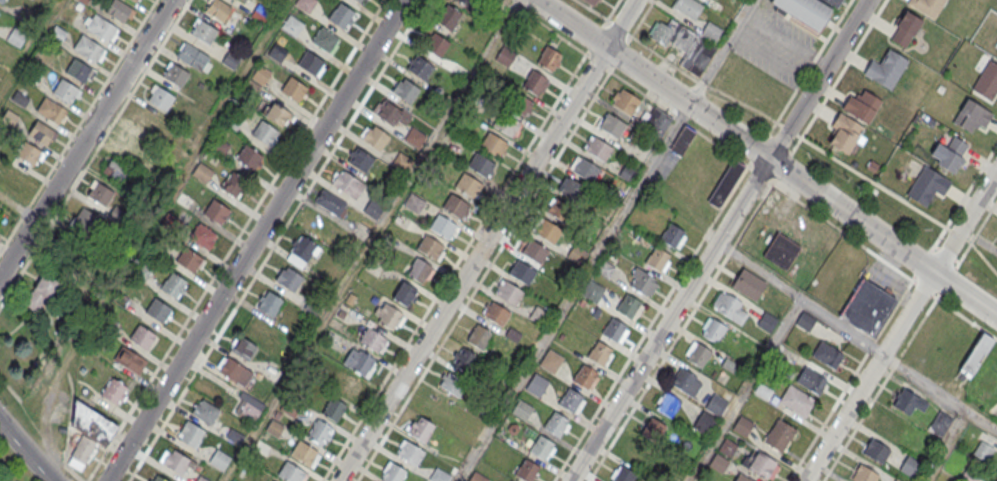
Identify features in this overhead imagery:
building: (135, 0)
building: (1, 1)
building: (84, 1)
building: (358, 1)
building: (361, 1)
building: (589, 2)
building: (833, 2)
building: (469, 3)
building: (305, 4)
building: (926, 6)
building: (218, 8)
building: (688, 8)
road: (751, 8)
building: (119, 10)
building: (804, 12)
building: (340, 17)
building: (448, 17)
building: (292, 25)
building: (100, 27)
building: (905, 30)
building: (204, 31)
building: (661, 33)
building: (710, 33)
building: (57, 34)
road: (631, 36)
road: (781, 37)
road: (595, 38)
building: (324, 41)
building: (436, 45)
parking lot: (775, 45)
building: (88, 47)
building: (277, 52)
building: (192, 56)
building: (698, 56)
building: (505, 57)
building: (549, 58)
road: (718, 61)
road: (813, 61)
road: (822, 61)
building: (309, 65)
building: (419, 67)
building: (885, 68)
road: (843, 69)
building: (78, 70)
building: (175, 74)
building: (261, 75)
building: (986, 76)
road: (690, 77)
road: (819, 80)
building: (535, 82)
building: (404, 89)
building: (65, 90)
building: (293, 90)
building: (161, 98)
building: (517, 103)
building: (626, 104)
building: (861, 105)
building: (51, 110)
building: (391, 113)
building: (277, 116)
building: (971, 116)
building: (657, 120)
building: (146, 122)
road: (77, 125)
building: (505, 125)
building: (612, 127)
building: (41, 132)
building: (844, 132)
building: (264, 134)
road: (85, 138)
building: (374, 138)
building: (414, 138)
building: (681, 142)
building: (130, 145)
building: (493, 145)
building: (219, 146)
building: (597, 150)
building: (27, 152)
building: (951, 154)
road: (766, 157)
building: (248, 159)
building: (359, 160)
building: (480, 165)
building: (114, 169)
building: (585, 170)
building: (203, 172)
building: (15, 176)
road: (540, 183)
building: (233, 184)
building: (347, 185)
building: (725, 185)
building: (926, 185)
building: (467, 186)
building: (573, 191)
building: (101, 194)
building: (330, 202)
building: (413, 203)
building: (455, 207)
building: (373, 209)
building: (560, 211)
road: (954, 211)
building: (216, 213)
building: (87, 219)
road: (965, 220)
building: (442, 227)
building: (547, 232)
road: (976, 233)
building: (0, 235)
building: (672, 235)
building: (202, 237)
road: (235, 240)
road: (255, 240)
road: (275, 240)
road: (487, 240)
building: (996, 243)
building: (67, 246)
building: (430, 248)
building: (781, 250)
building: (301, 252)
building: (533, 253)
road: (728, 253)
road: (460, 256)
building: (657, 259)
building: (189, 261)
building: (63, 267)
building: (419, 269)
building: (605, 269)
building: (521, 273)
building: (289, 278)
parking lot: (885, 278)
building: (642, 282)
building: (173, 284)
building: (748, 284)
building: (41, 290)
building: (592, 290)
building: (404, 293)
road: (574, 293)
building: (508, 294)
road: (800, 298)
building: (269, 303)
building: (725, 303)
building: (627, 305)
building: (867, 307)
building: (157, 310)
road: (953, 310)
building: (496, 315)
building: (387, 316)
building: (539, 316)
road: (669, 320)
building: (613, 329)
building: (712, 329)
building: (478, 335)
building: (141, 336)
building: (371, 341)
building: (243, 348)
building: (599, 353)
building: (697, 354)
building: (827, 354)
building: (975, 355)
building: (129, 359)
building: (462, 359)
building: (359, 361)
building: (551, 361)
building: (234, 371)
building: (584, 376)
road: (869, 376)
building: (810, 379)
building: (686, 382)
building: (535, 384)
building: (344, 385)
building: (452, 385)
road: (744, 390)
building: (114, 391)
road: (939, 393)
building: (570, 399)
building: (796, 400)
building: (908, 401)
building: (667, 404)
building: (716, 405)
building: (248, 407)
building: (334, 408)
building: (522, 409)
building: (205, 411)
building: (556, 423)
building: (704, 423)
building: (939, 423)
building: (92, 424)
building: (742, 426)
building: (420, 428)
building: (652, 429)
building: (320, 432)
building: (190, 434)
building: (779, 435)
building: (541, 446)
road: (945, 446)
building: (982, 450)
road: (26, 451)
building: (635, 451)
building: (876, 451)
building: (81, 453)
building: (302, 454)
building: (410, 454)
building: (219, 459)
building: (175, 461)
building: (762, 466)
building: (911, 466)
building: (526, 470)
building: (290, 473)
building: (392, 473)
road: (73, 474)
building: (623, 474)
building: (863, 474)
building: (438, 475)
building: (477, 477)
building: (156, 478)
building: (202, 478)
building: (744, 478)
building: (232, 480)
building: (510, 480)
building: (898, 480)
building: (996, 480)

